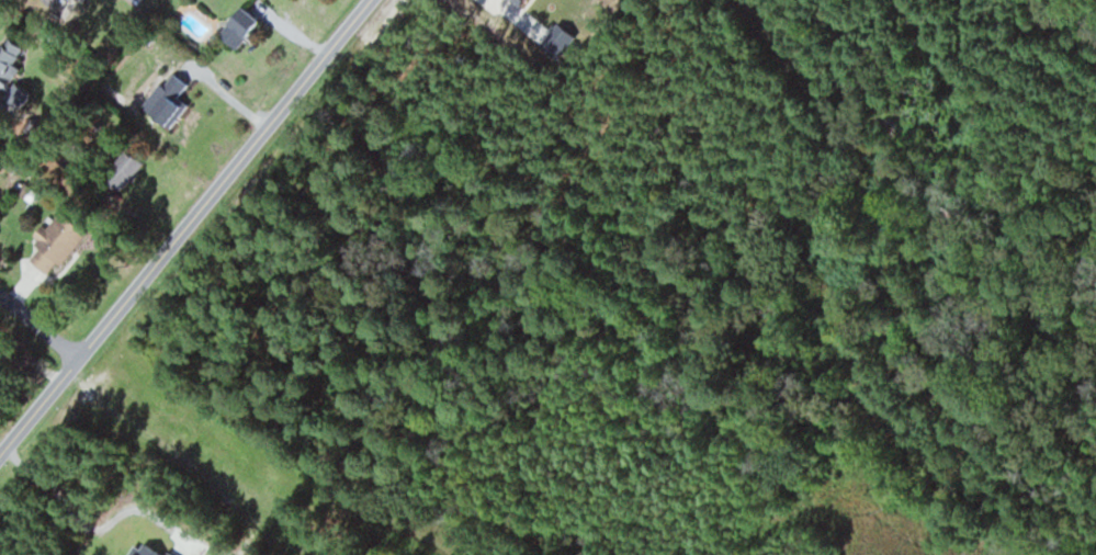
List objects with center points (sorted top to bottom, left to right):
building: (239, 24)
building: (18, 60)
building: (174, 101)
building: (133, 169)
road: (187, 228)
building: (64, 242)
road: (41, 324)

